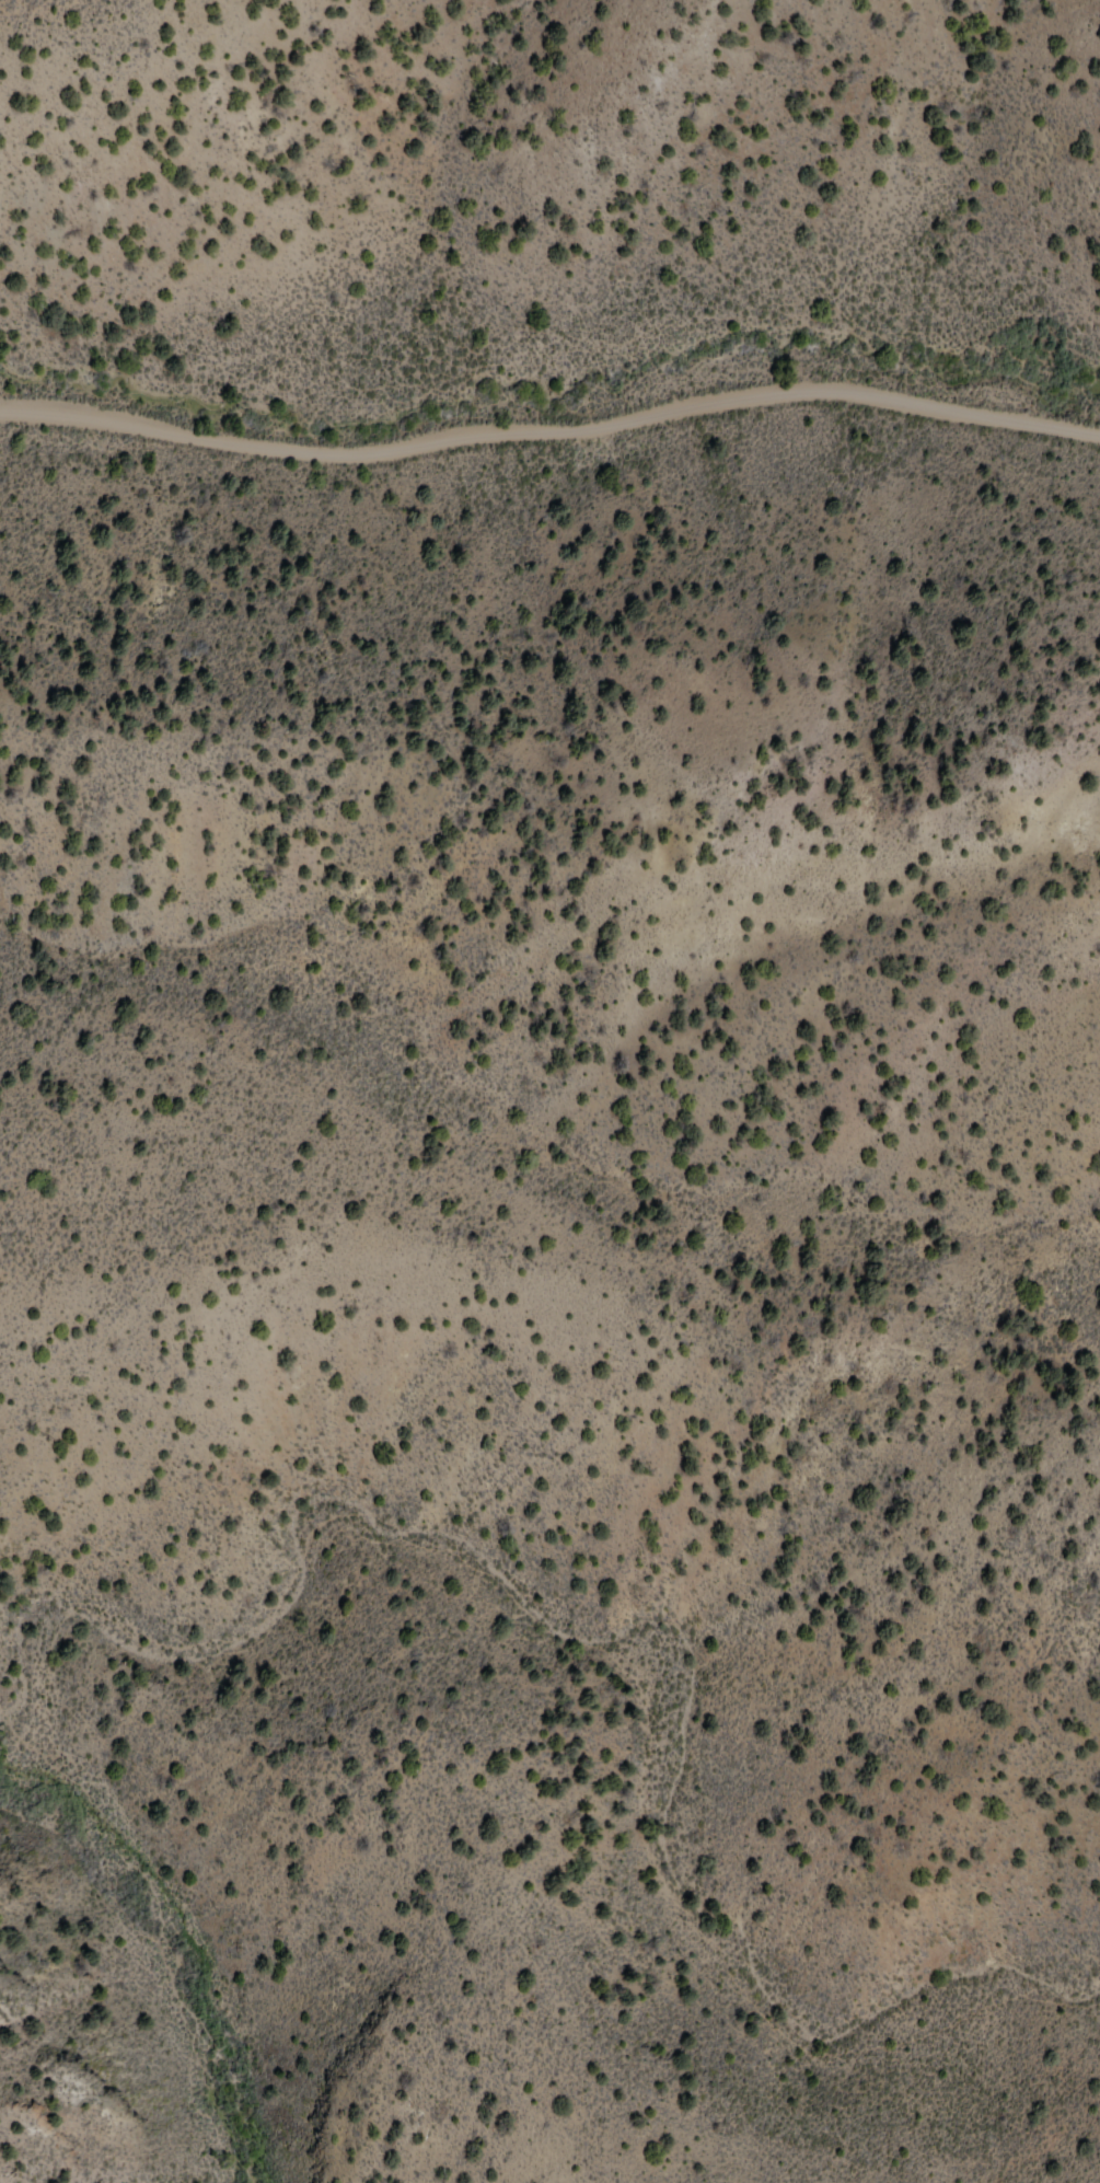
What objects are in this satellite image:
road: (551, 439)

